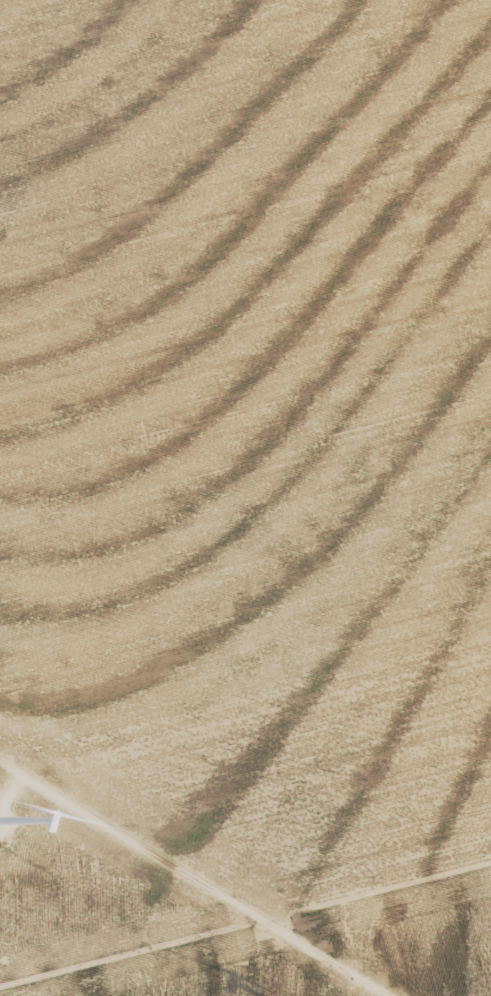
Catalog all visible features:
road: (187, 880)

